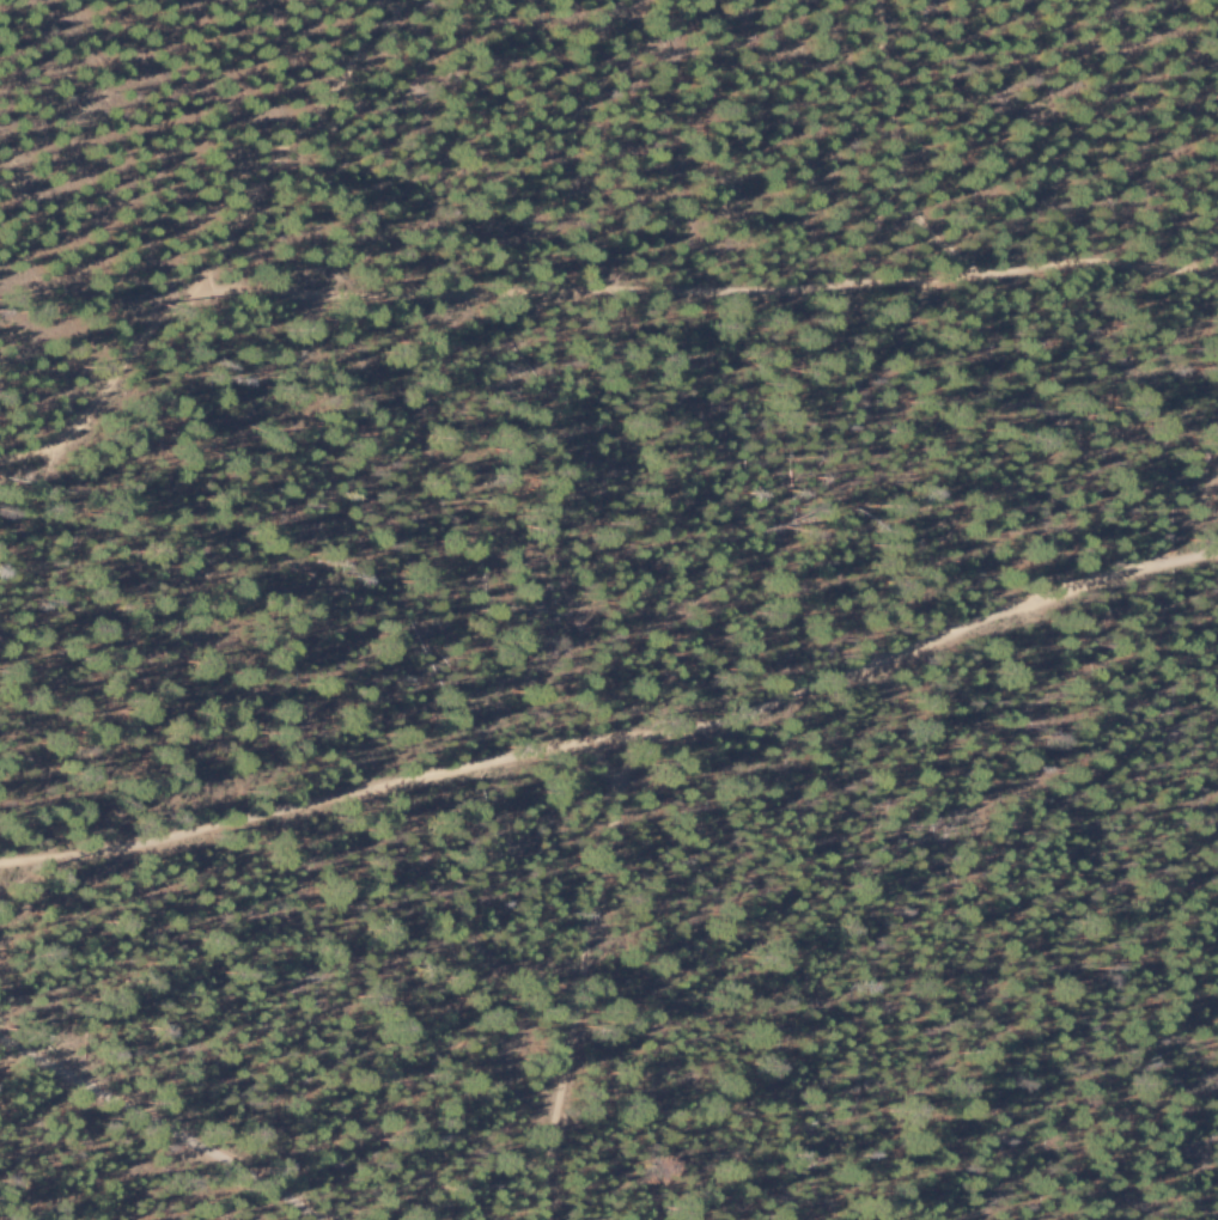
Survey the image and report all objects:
road: (287, 145)
road: (896, 151)
road: (928, 233)
road: (575, 293)
road: (1183, 521)
road: (700, 726)
road: (335, 795)
road: (159, 1126)

